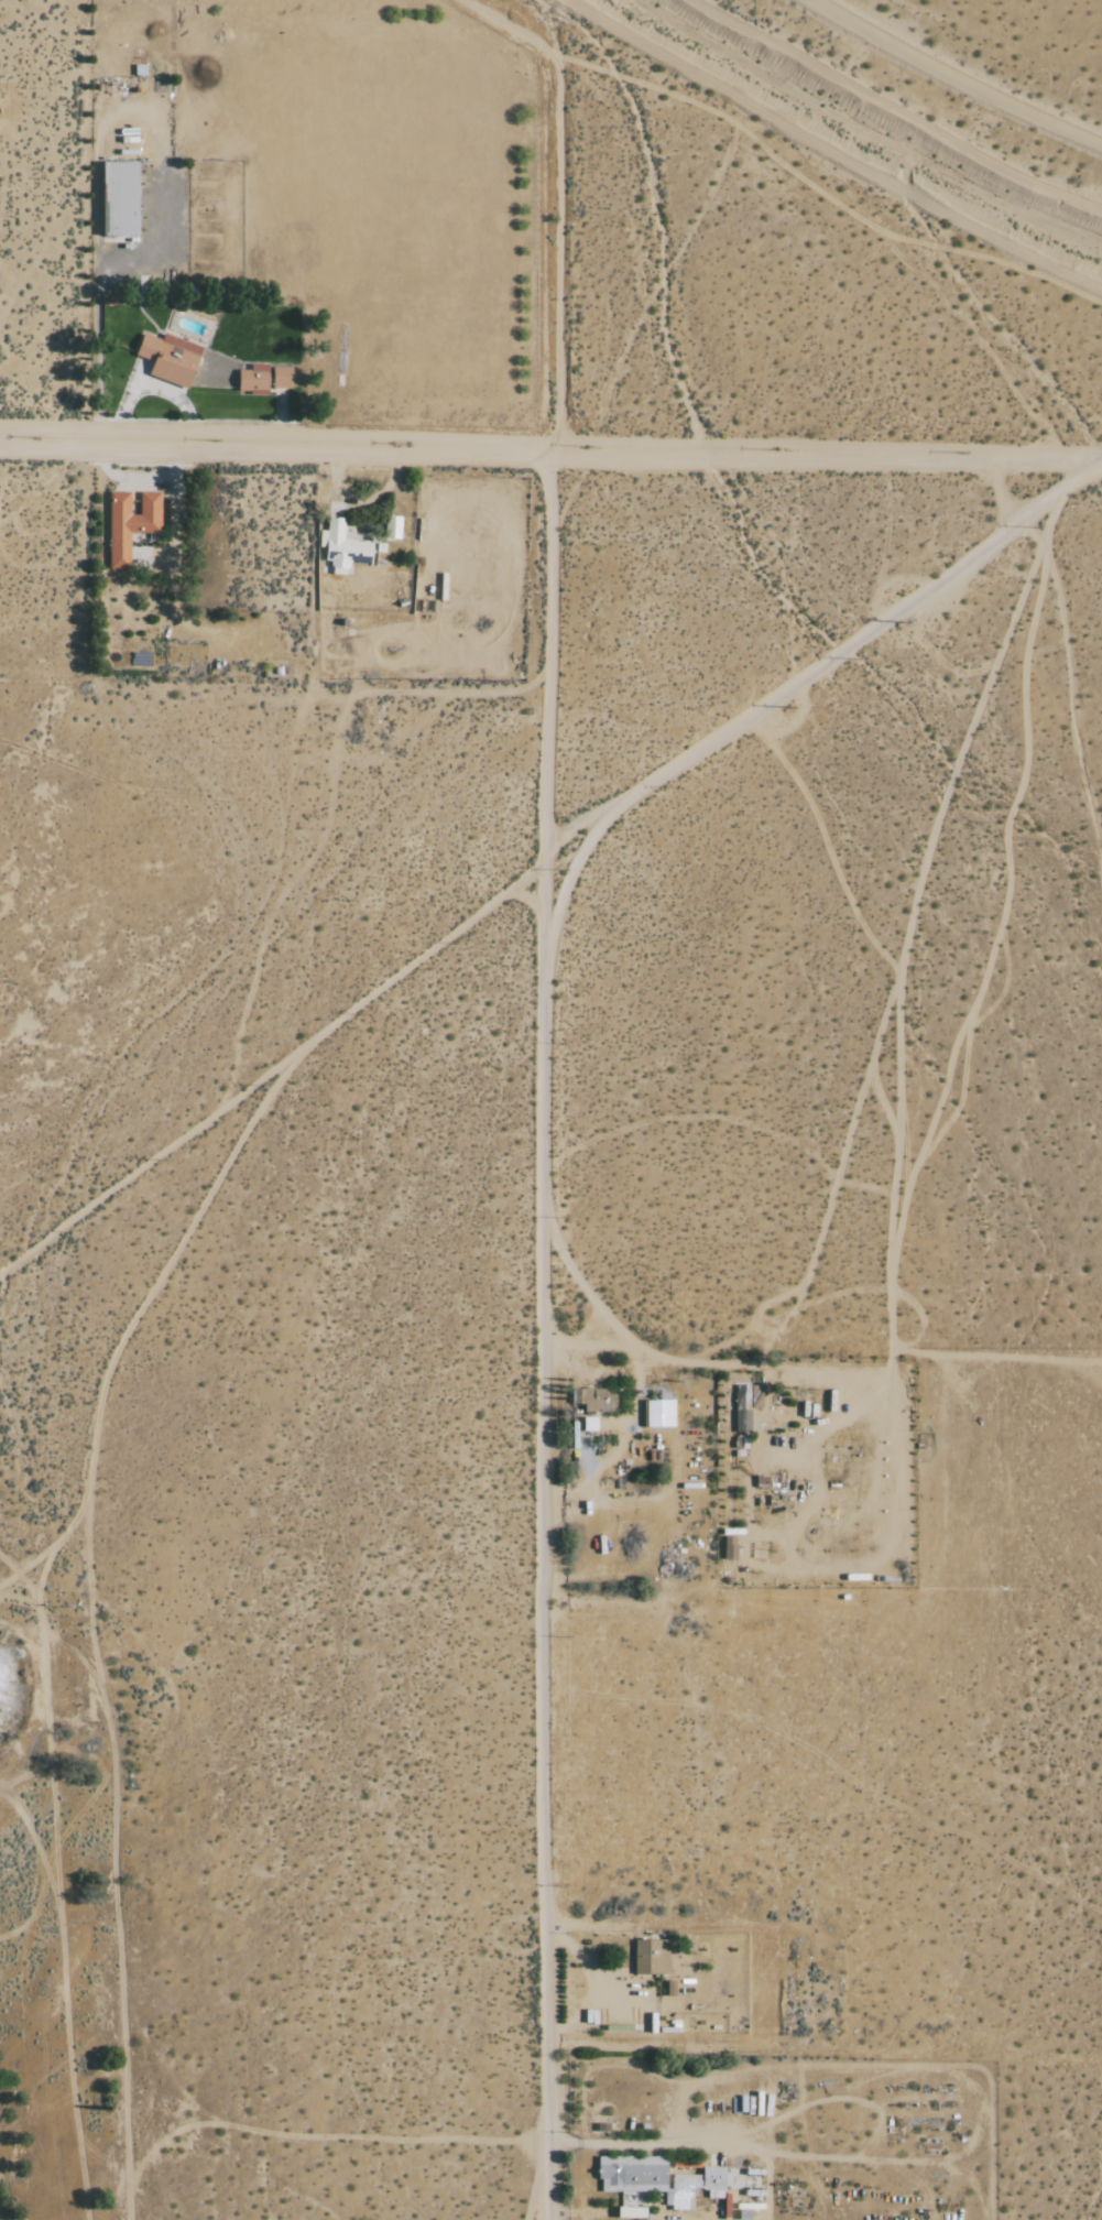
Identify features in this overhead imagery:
building: (120, 198)
road: (97, 302)
building: (170, 359)
building: (264, 379)
road: (156, 388)
road: (281, 427)
road: (550, 459)
road: (139, 476)
building: (130, 523)
building: (341, 546)
road: (544, 1339)
road: (581, 1340)
road: (670, 1360)
road: (634, 1381)
building: (594, 1399)
building: (659, 1413)
building: (589, 1423)
road: (589, 1981)
road: (654, 2144)
building: (658, 2179)

